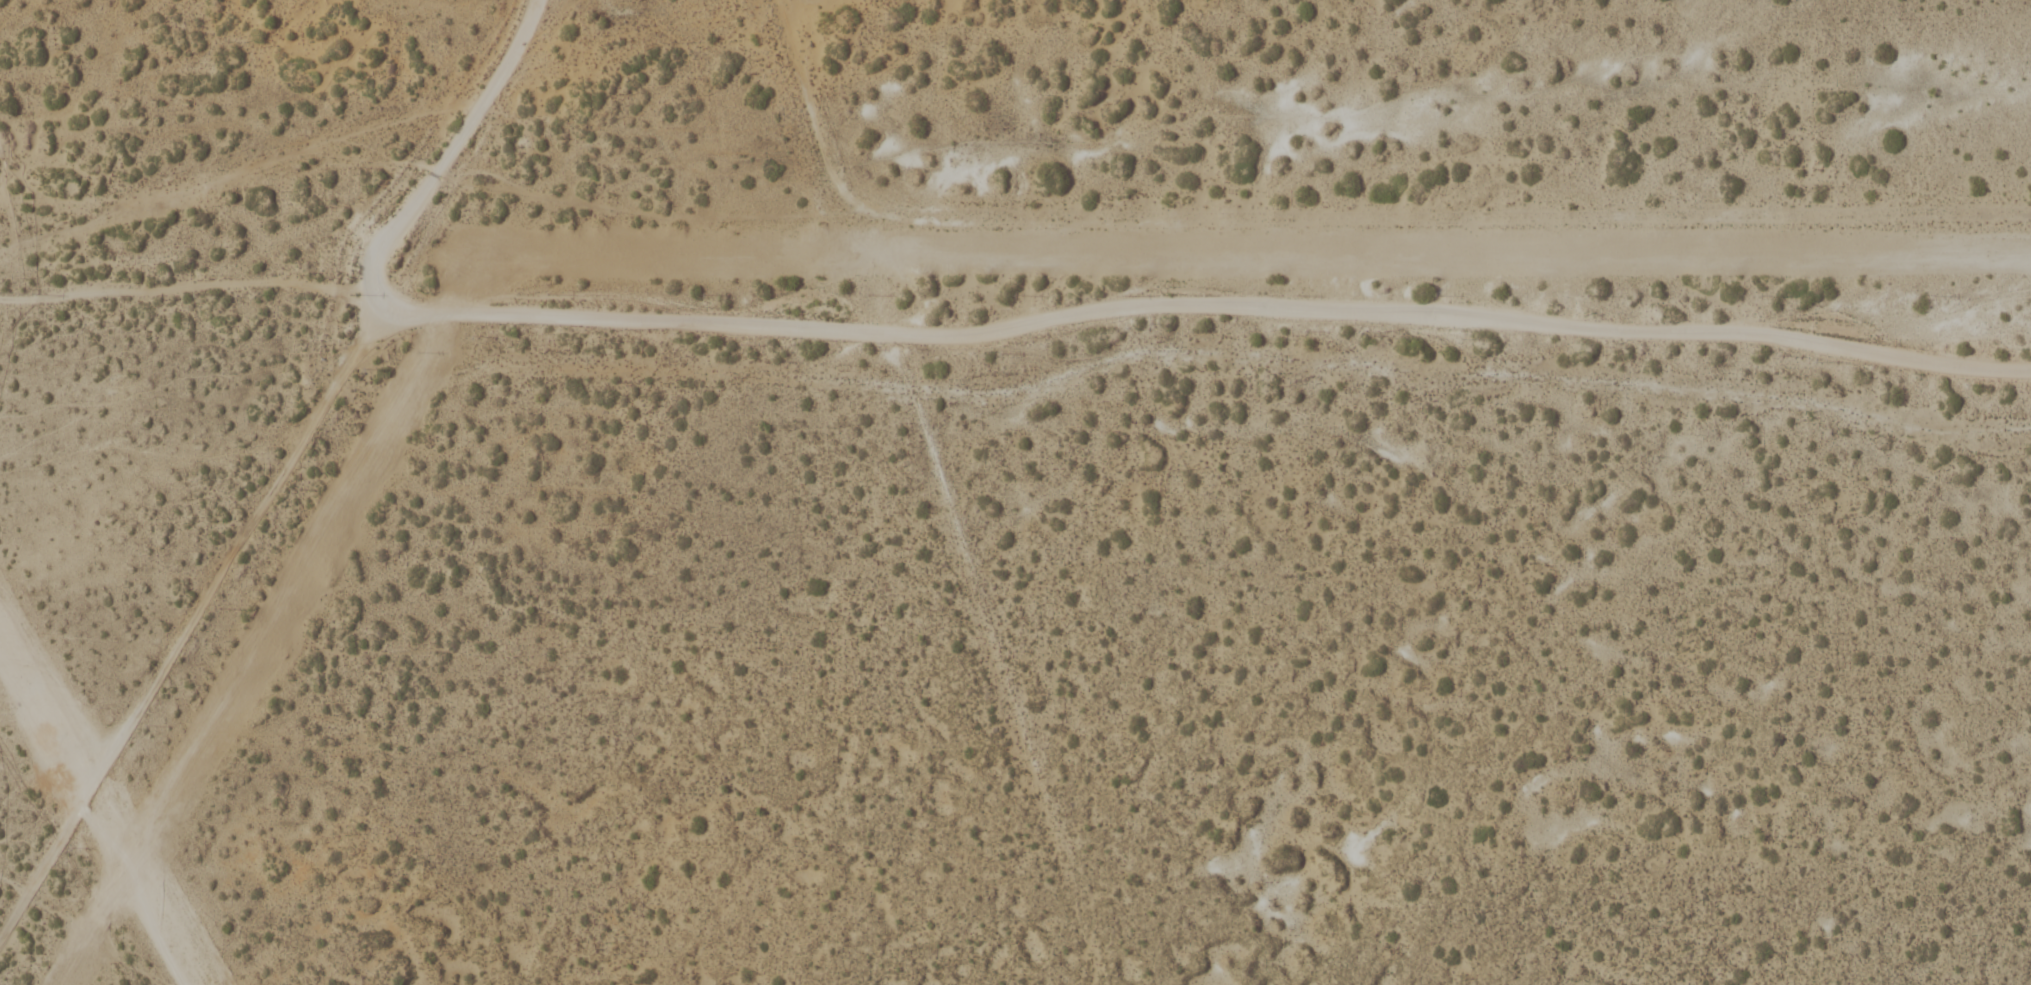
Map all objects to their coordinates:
road: (1016, 327)

